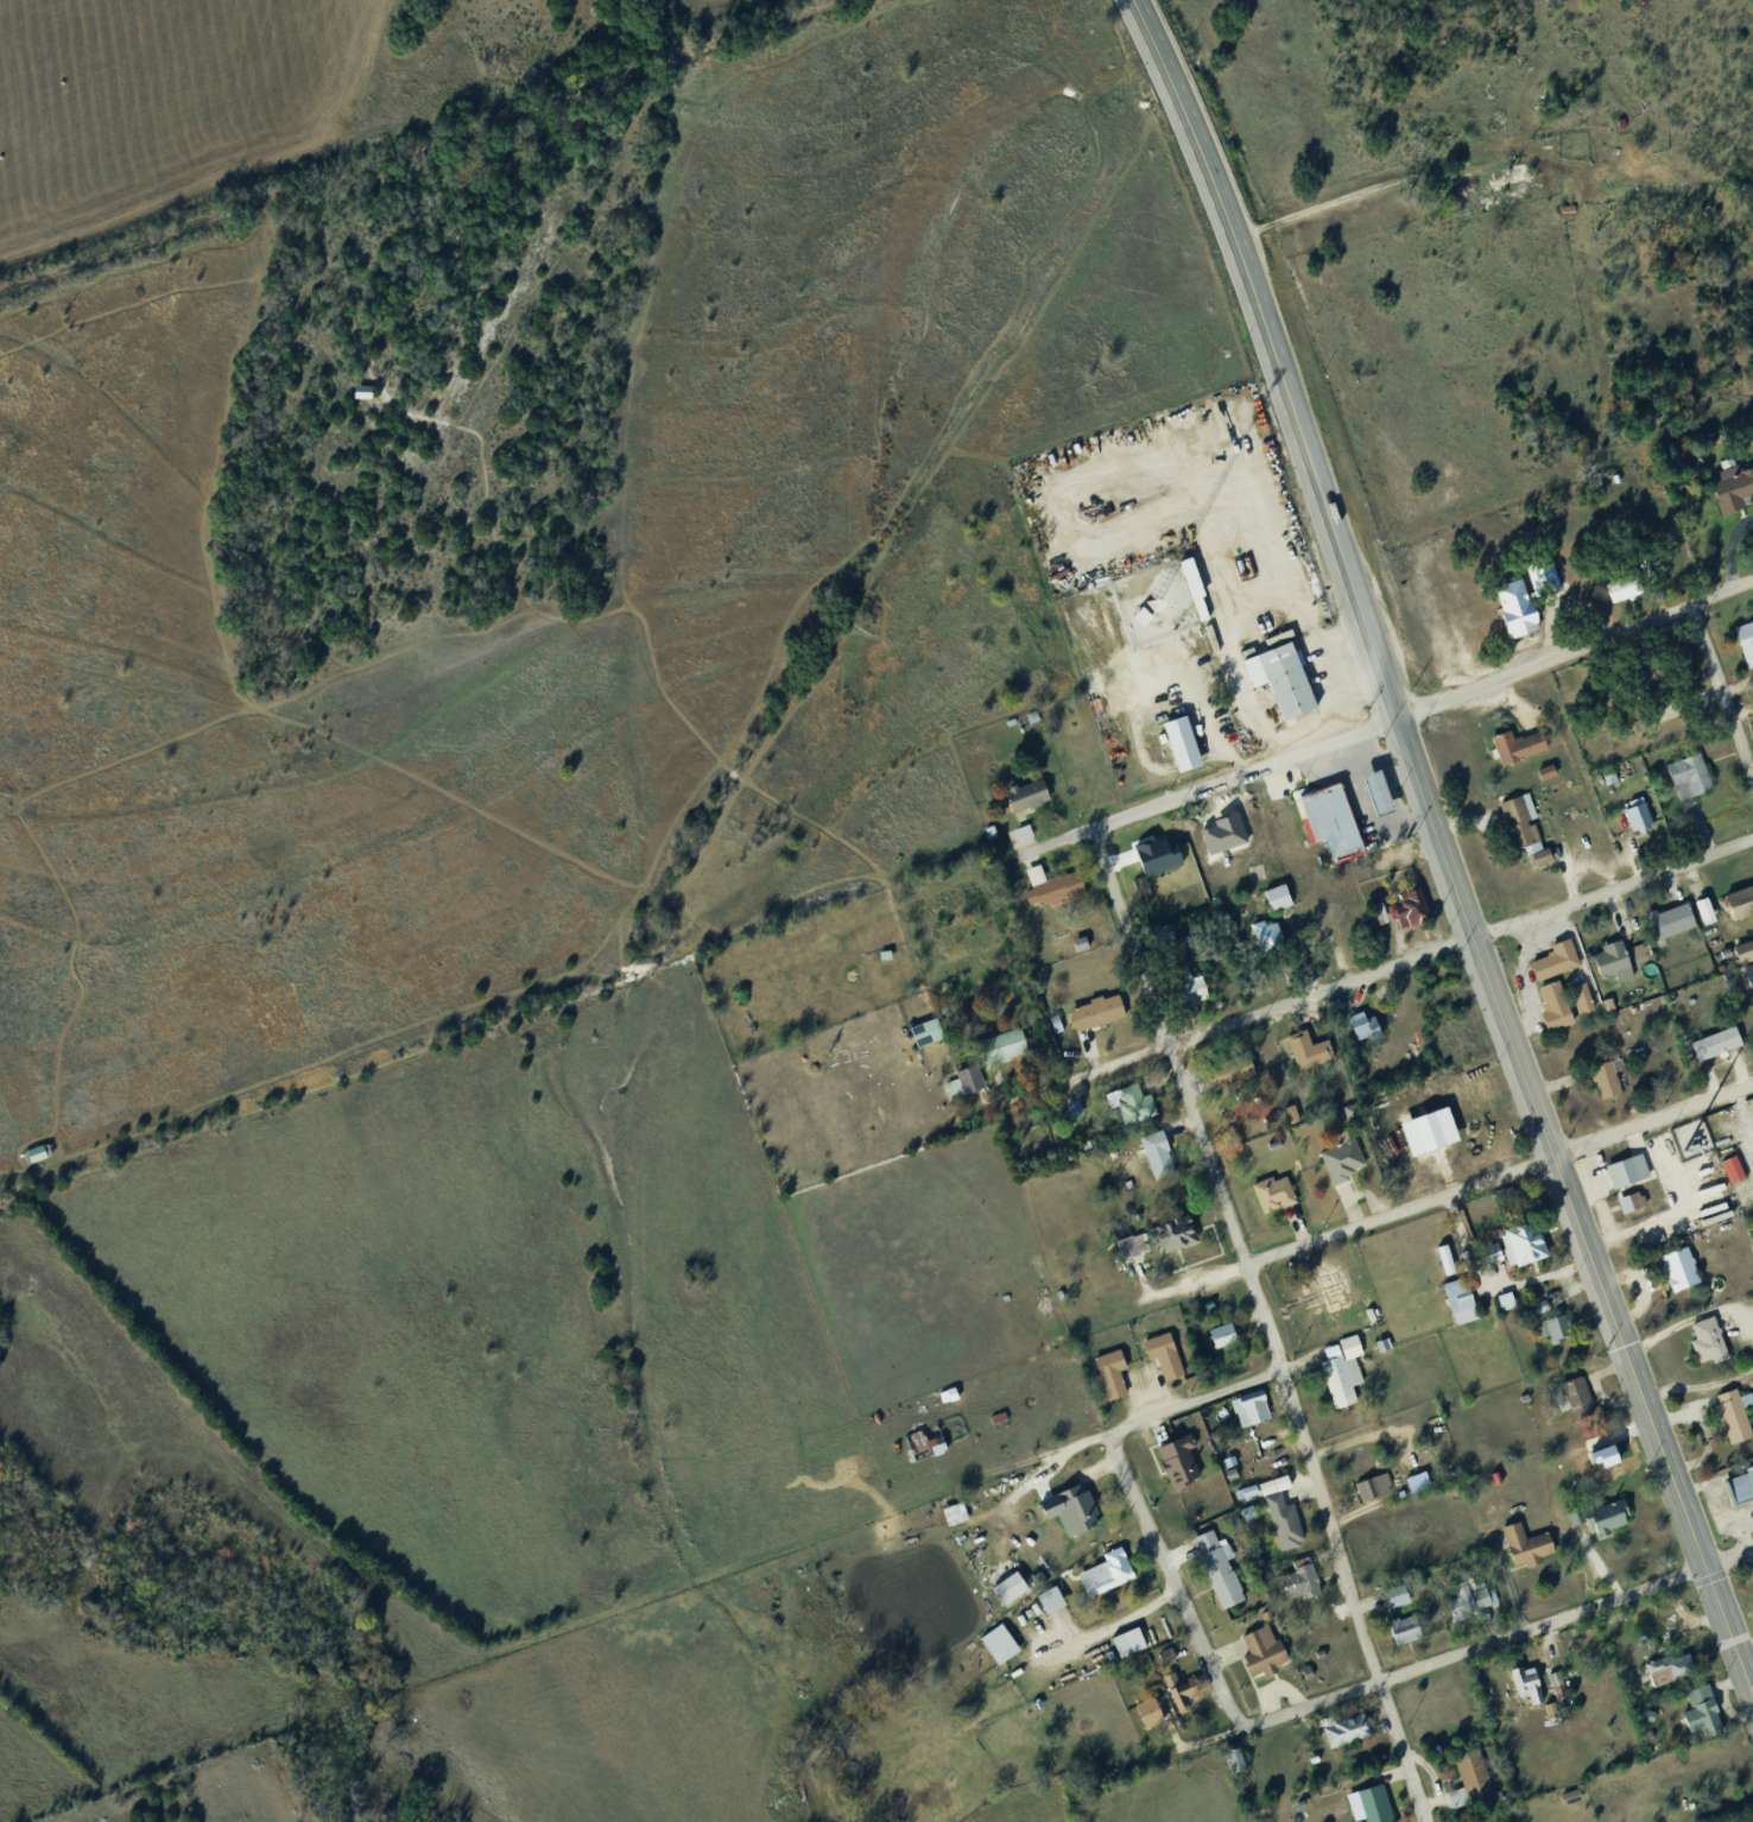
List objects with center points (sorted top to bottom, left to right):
building: (1510, 189)
building: (1467, 196)
road: (1272, 353)
building: (1729, 489)
building: (1196, 584)
building: (1616, 596)
road: (1251, 600)
building: (1520, 603)
building: (1743, 647)
road: (1574, 650)
building: (1274, 682)
building: (1646, 683)
road: (1722, 690)
road: (1203, 701)
building: (1027, 722)
building: (1006, 725)
building: (1640, 729)
building: (1177, 749)
building: (1513, 751)
road: (1346, 770)
building: (1549, 770)
building: (1542, 777)
building: (1683, 783)
road: (1205, 784)
building: (1384, 790)
building: (1021, 799)
building: (1371, 799)
road: (1396, 801)
road: (1362, 821)
building: (1632, 821)
building: (1325, 829)
building: (1517, 831)
building: (985, 836)
building: (1019, 837)
road: (1612, 887)
building: (1045, 891)
building: (1280, 894)
building: (1735, 903)
building: (1272, 904)
building: (1707, 909)
building: (1404, 913)
building: (1371, 917)
building: (1698, 918)
building: (1660, 928)
building: (1156, 940)
building: (1261, 942)
building: (1075, 949)
building: (1740, 955)
building: (880, 959)
building: (1550, 966)
building: (1607, 968)
building: (1751, 968)
road: (1521, 975)
building: (1747, 983)
building: (1188, 995)
building: (1583, 995)
building: (1575, 1002)
building: (1549, 1013)
building: (1093, 1017)
road: (1221, 1021)
building: (1305, 1023)
building: (1365, 1024)
building: (1749, 1025)
building: (1356, 1035)
building: (923, 1037)
building: (1710, 1050)
building: (999, 1052)
building: (1300, 1056)
building: (1234, 1073)
building: (1608, 1078)
building: (1597, 1083)
building: (961, 1084)
building: (1124, 1111)
road: (1652, 1118)
building: (1434, 1130)
building: (1151, 1158)
building: (1339, 1164)
building: (1735, 1168)
building: (1621, 1177)
building: (1727, 1177)
building: (1122, 1187)
building: (1267, 1200)
building: (1633, 1201)
road: (1570, 1204)
road: (1399, 1209)
building: (1166, 1238)
building: (1512, 1250)
building: (1125, 1251)
building: (1673, 1274)
road: (1491, 1288)
building: (1451, 1289)
building: (1318, 1292)
building: (1508, 1299)
road: (1694, 1316)
building: (1366, 1320)
road: (1264, 1322)
building: (1548, 1329)
building: (1226, 1333)
building: (1217, 1341)
building: (1701, 1346)
building: (1378, 1349)
building: (1159, 1361)
building: (1339, 1377)
building: (1107, 1378)
road: (1698, 1385)
building: (951, 1393)
building: (944, 1399)
road: (1197, 1399)
building: (1519, 1402)
building: (1570, 1402)
building: (1245, 1412)
building: (1728, 1422)
building: (994, 1423)
road: (1705, 1430)
building: (920, 1447)
building: (1612, 1454)
building: (1173, 1462)
building: (1420, 1480)
building: (1277, 1483)
building: (1412, 1488)
building: (1268, 1491)
building: (1367, 1491)
building: (1739, 1493)
building: (1243, 1497)
building: (1390, 1500)
building: (957, 1512)
building: (1061, 1512)
building: (949, 1517)
building: (1242, 1518)
building: (1596, 1520)
building: (1279, 1527)
building: (1519, 1549)
road: (1729, 1558)
building: (1211, 1570)
road: (1172, 1576)
building: (1101, 1579)
building: (1403, 1581)
building: (1291, 1586)
building: (1005, 1594)
building: (1399, 1594)
building: (1391, 1601)
building: (1045, 1605)
building: (1466, 1608)
building: (1407, 1627)
building: (1396, 1634)
road: (1475, 1646)
building: (1122, 1647)
building: (994, 1649)
building: (1170, 1653)
building: (1257, 1656)
building: (1315, 1657)
building: (1666, 1660)
building: (1300, 1676)
building: (1523, 1687)
building: (1181, 1700)
building: (1152, 1710)
building: (1695, 1714)
building: (1143, 1716)
building: (1643, 1720)
building: (1340, 1735)
building: (1240, 1759)
building: (1228, 1765)
building: (1468, 1780)
building: (1574, 1795)
building: (1565, 1799)
building: (1368, 1805)
building: (1751, 1821)

